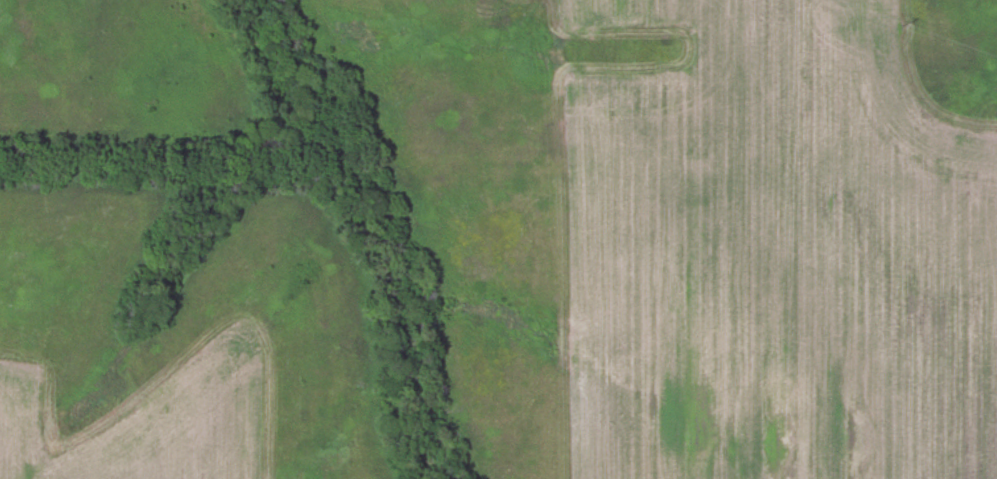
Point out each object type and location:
crop: (766, 254)
crop: (148, 427)

